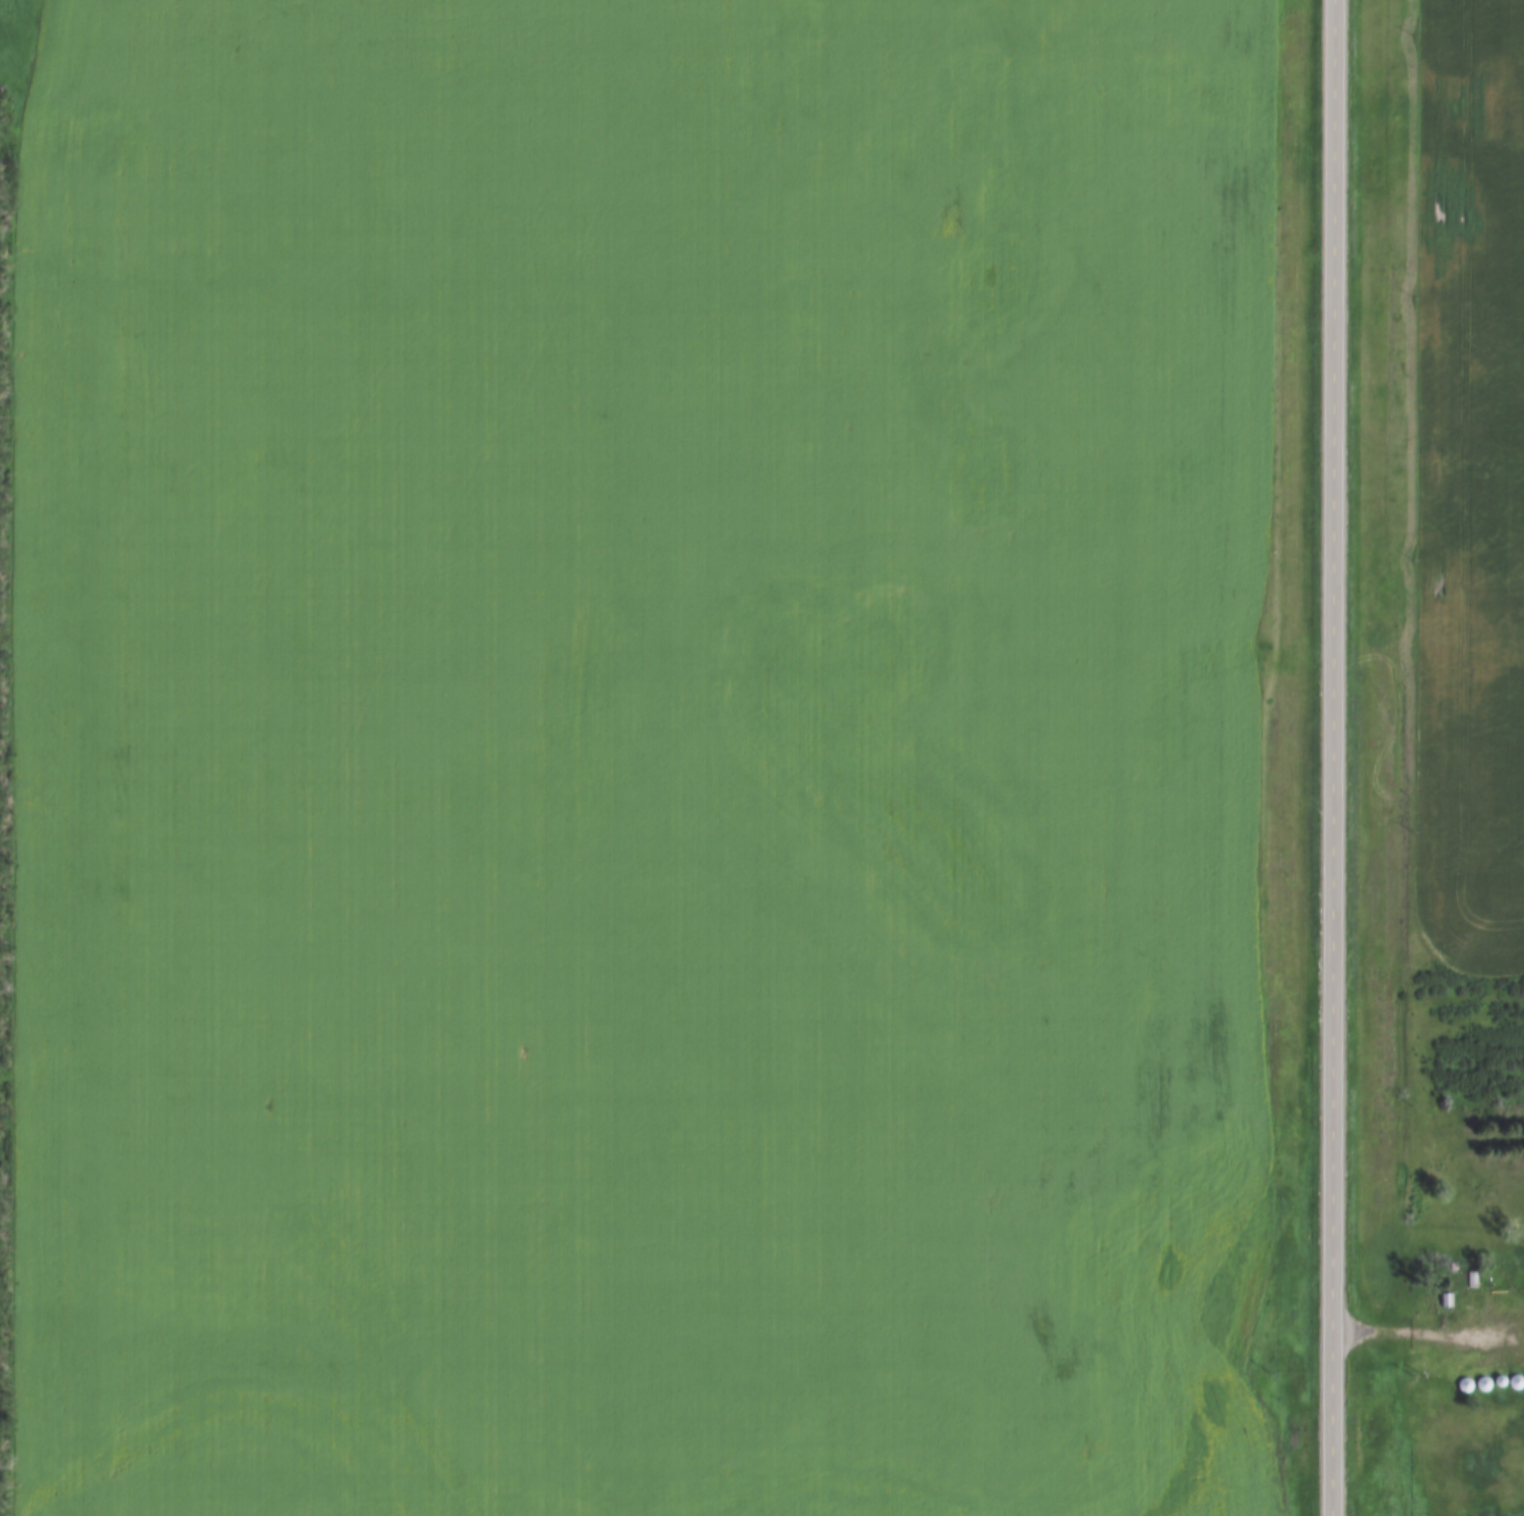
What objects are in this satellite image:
road: (1328, 757)
building: (1449, 1300)
road: (1425, 1330)

